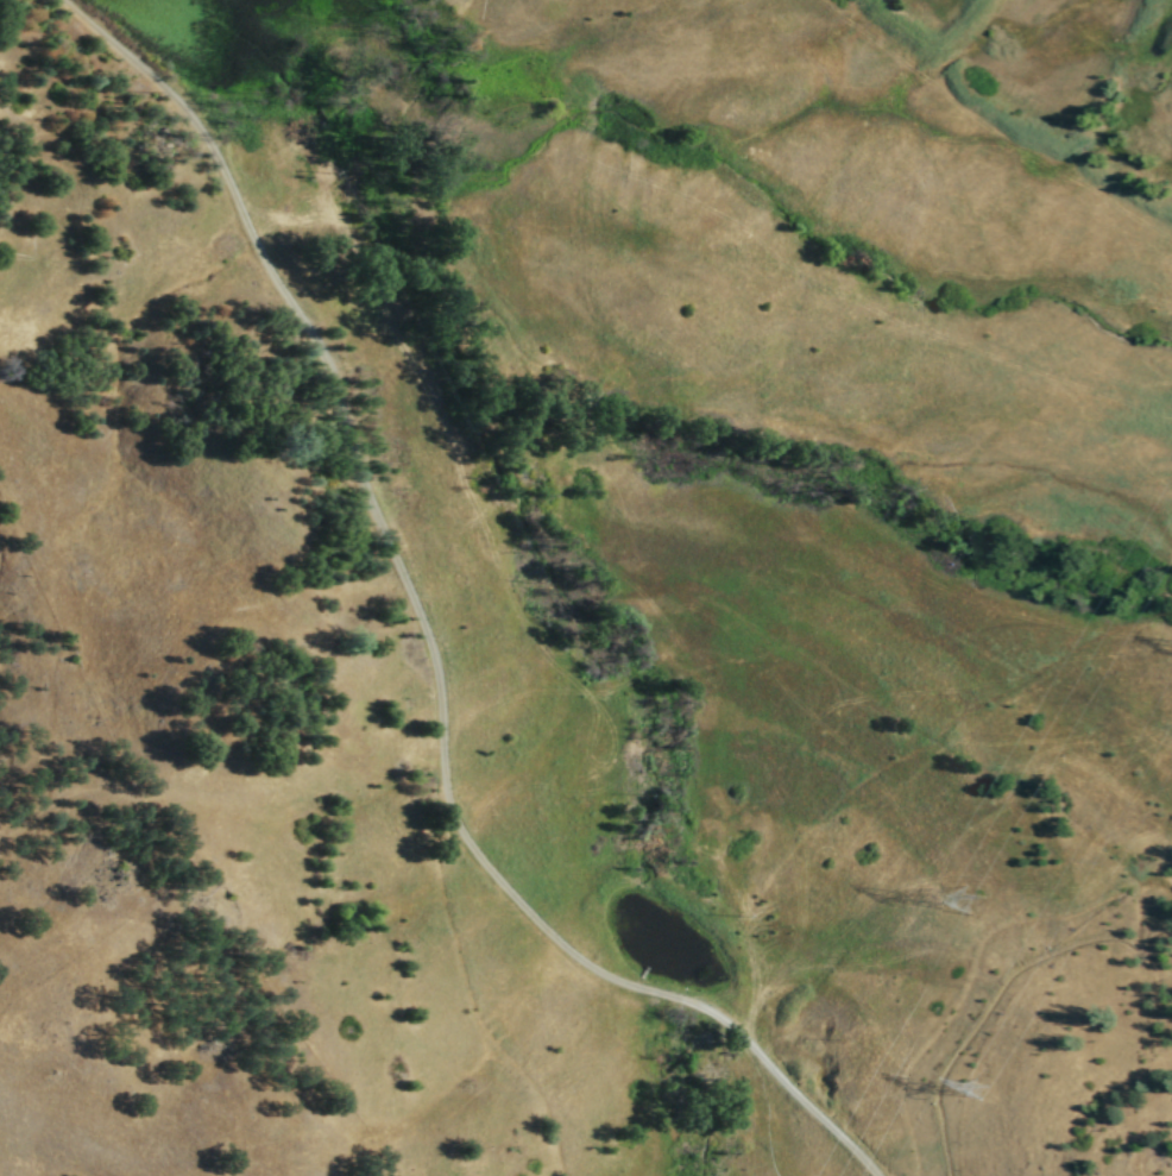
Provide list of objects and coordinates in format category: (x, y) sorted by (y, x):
road: (429, 637)
power tower: (969, 914)
power tower: (977, 1098)

